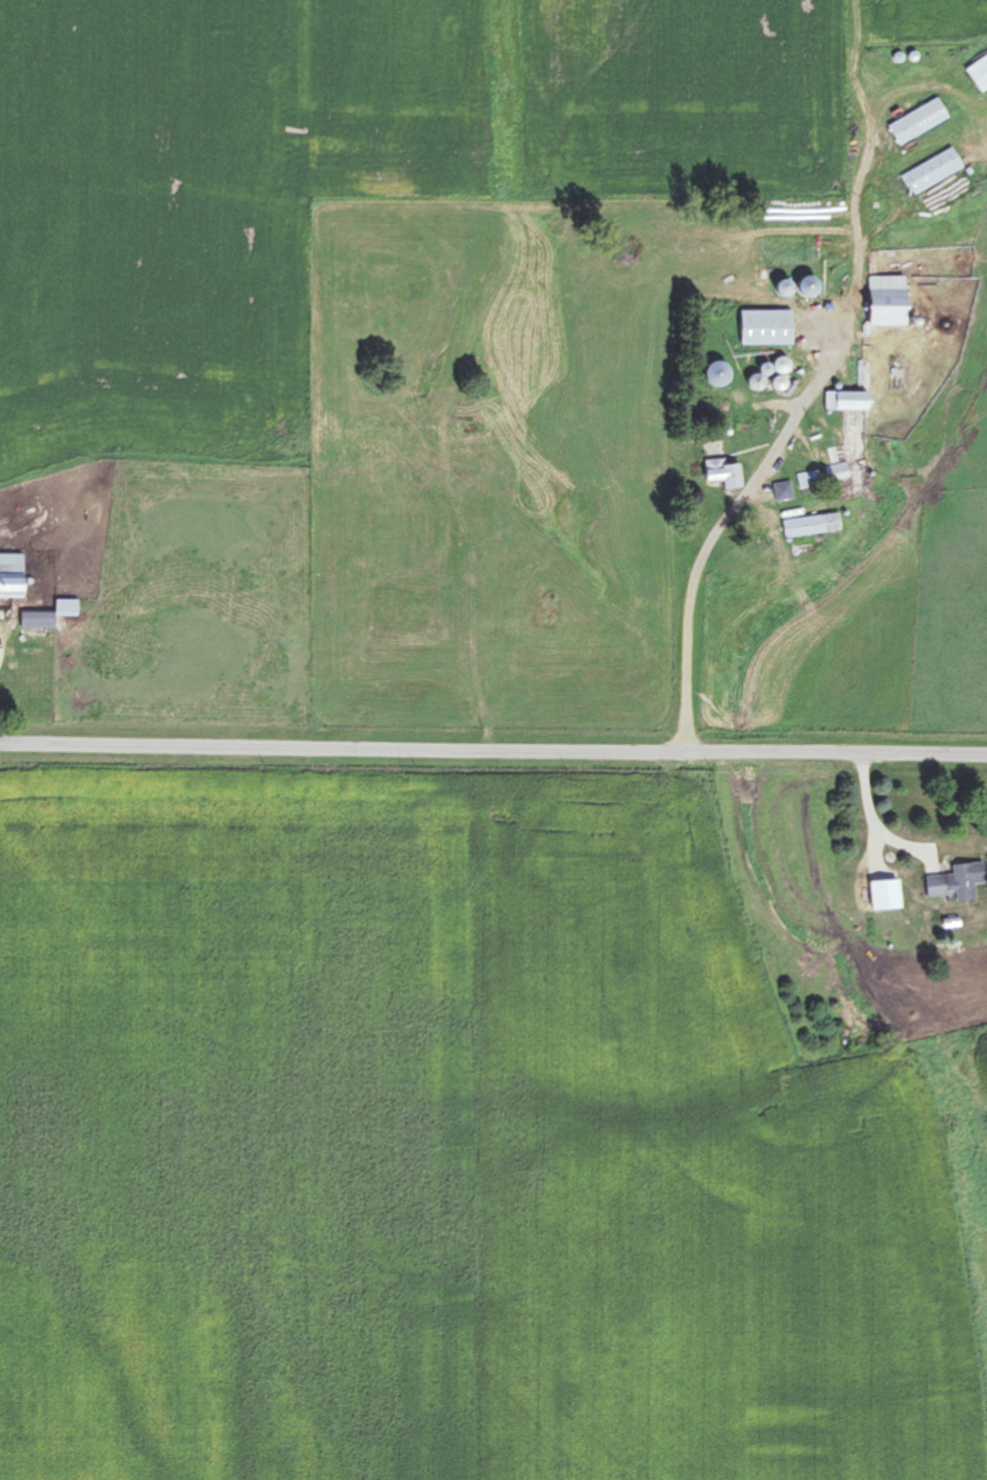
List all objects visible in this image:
building: (978, 74)
building: (916, 122)
building: (931, 171)
building: (885, 299)
building: (764, 326)
building: (850, 399)
road: (774, 447)
building: (722, 471)
building: (835, 471)
building: (807, 478)
building: (781, 491)
building: (809, 524)
building: (10, 574)
building: (65, 607)
building: (35, 619)
road: (493, 747)
road: (867, 821)
building: (957, 881)
building: (884, 894)

